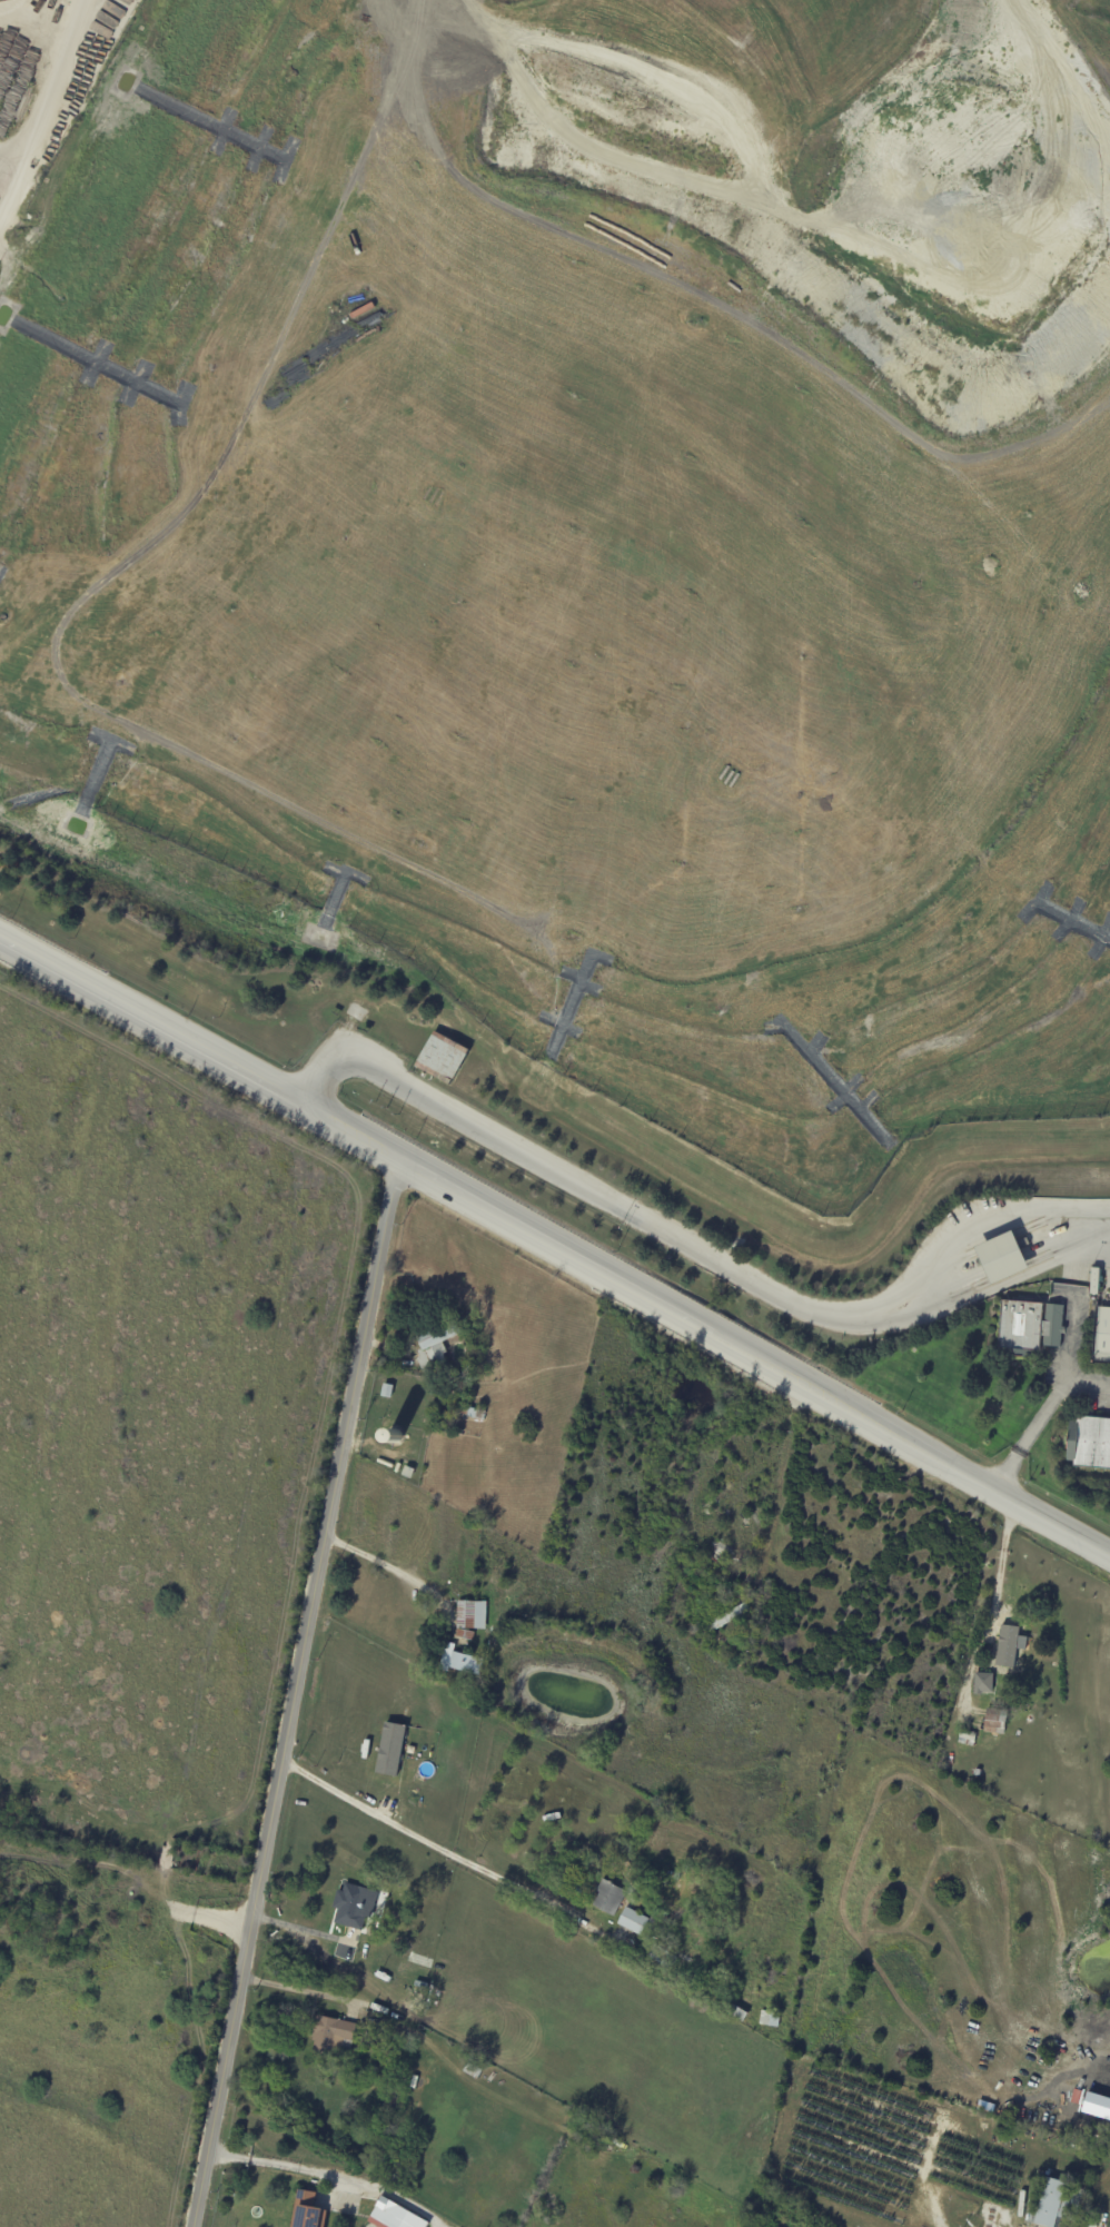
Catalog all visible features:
road: (44, 113)
landfill: (596, 540)
building: (443, 1058)
road: (695, 1244)
road: (557, 1249)
building: (1001, 1256)
building: (1094, 1280)
building: (1029, 1327)
building: (1102, 1335)
building: (434, 1343)
road: (1088, 1382)
building: (387, 1390)
road: (1053, 1397)
building: (470, 1413)
building: (457, 1432)
building: (397, 1434)
building: (1089, 1443)
building: (408, 1472)
road: (779, 1487)
road: (381, 1562)
road: (991, 1610)
building: (470, 1613)
building: (729, 1616)
building: (464, 1635)
building: (1009, 1646)
building: (458, 1661)
building: (983, 1682)
road: (291, 1692)
building: (995, 1722)
building: (968, 1736)
building: (392, 1748)
road: (426, 1844)
building: (608, 1897)
building: (354, 1907)
building: (657, 1919)
building: (632, 1921)
building: (684, 1956)
road: (300, 1986)
building: (734, 2013)
building: (769, 2020)
building: (330, 2033)
building: (474, 2066)
building: (413, 2081)
road: (298, 2166)
building: (1054, 2204)
building: (306, 2210)
building: (395, 2215)

